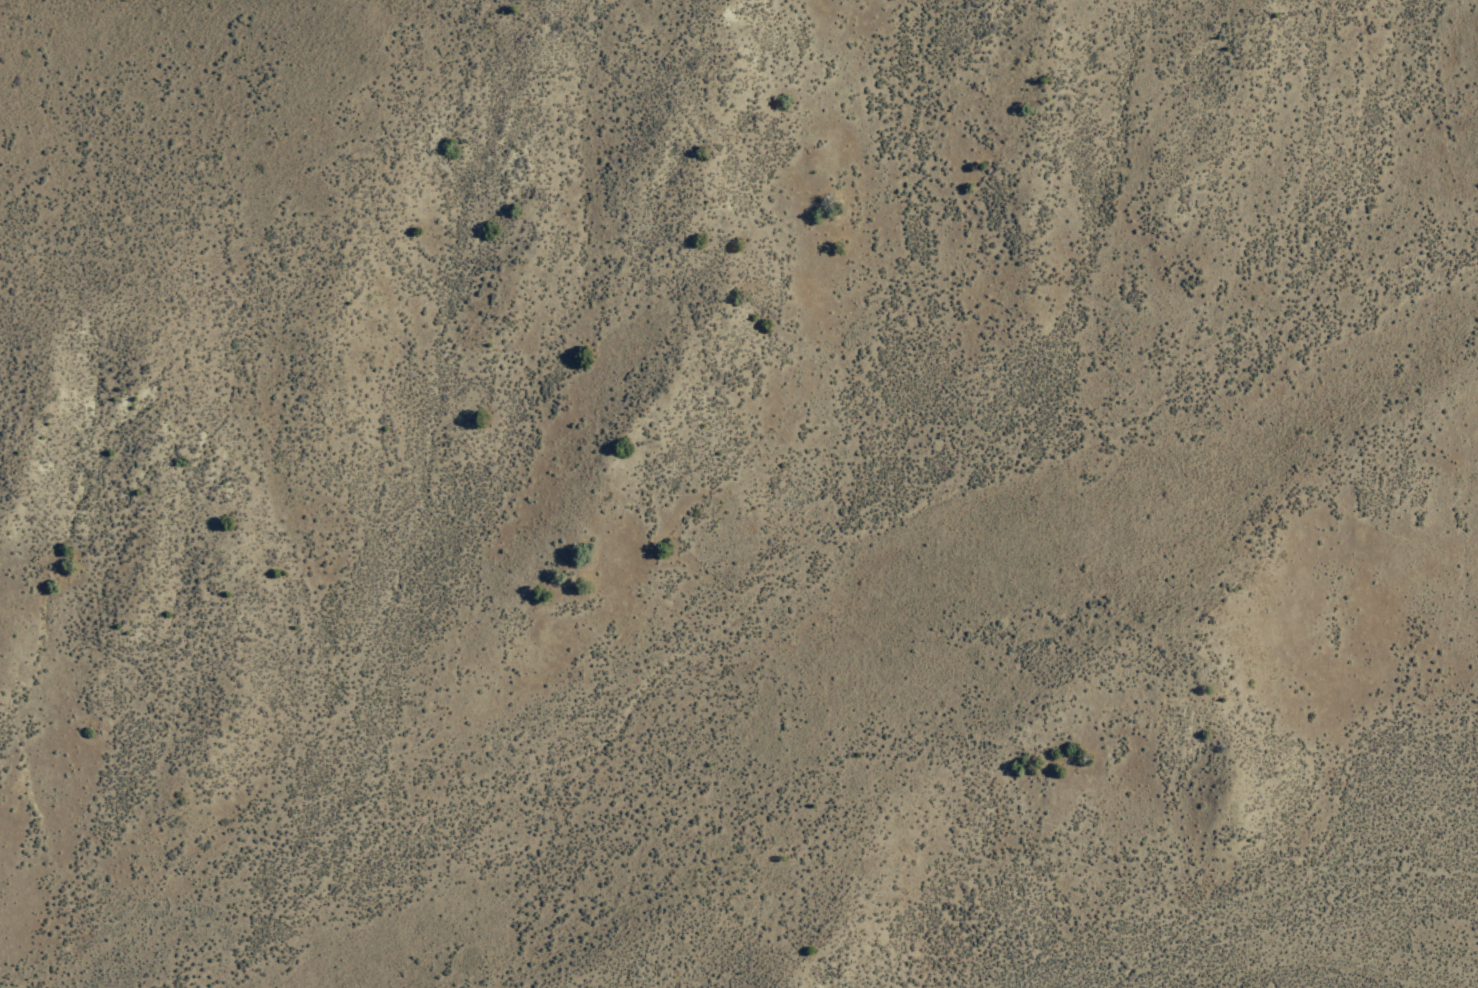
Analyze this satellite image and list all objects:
crop: (307, 870)

